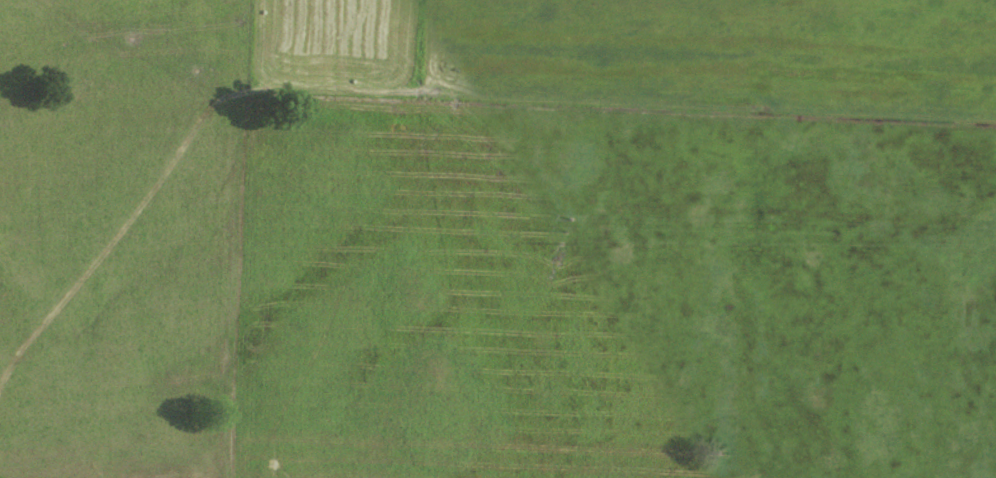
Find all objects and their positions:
power tower: (565, 227)

